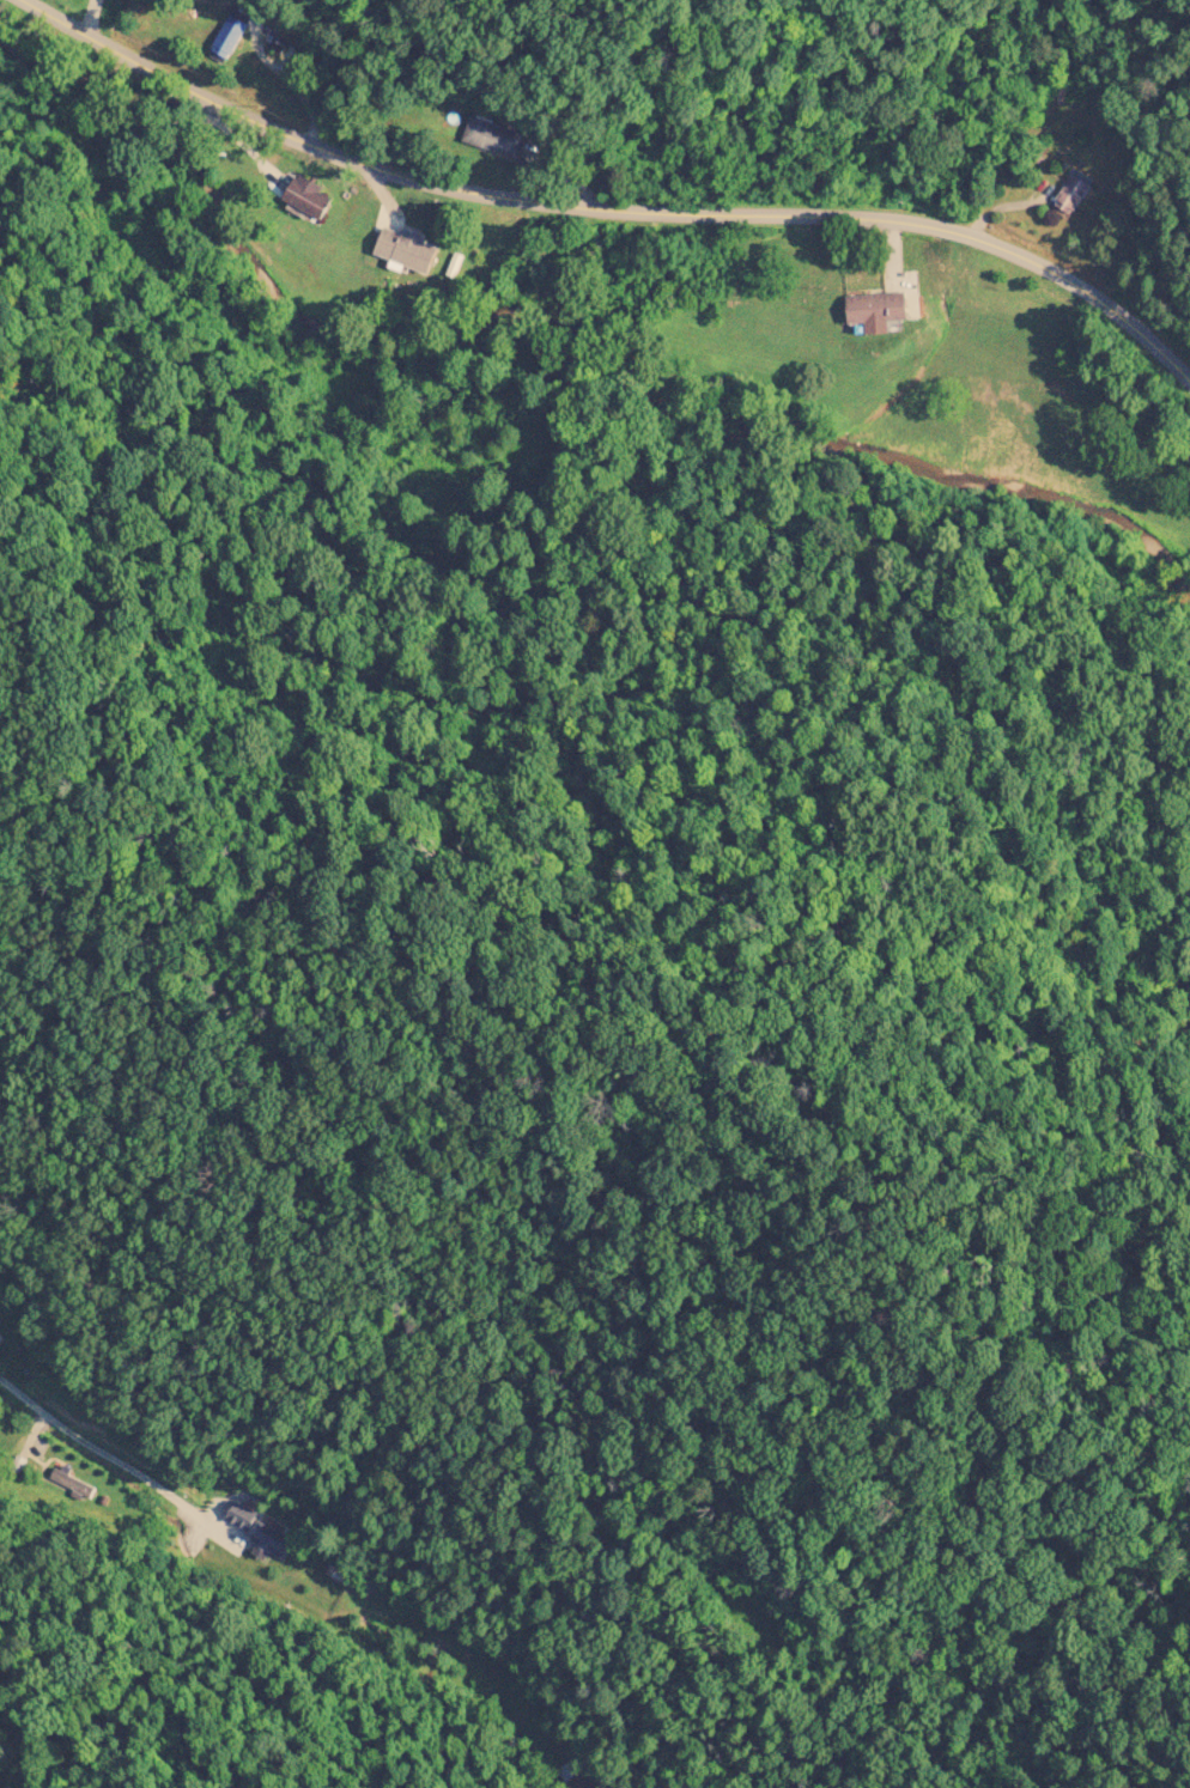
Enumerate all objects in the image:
building: (231, 36)
building: (496, 138)
building: (1067, 196)
building: (311, 199)
road: (609, 202)
building: (407, 250)
building: (869, 309)
building: (0, 1339)
road: (97, 1455)

